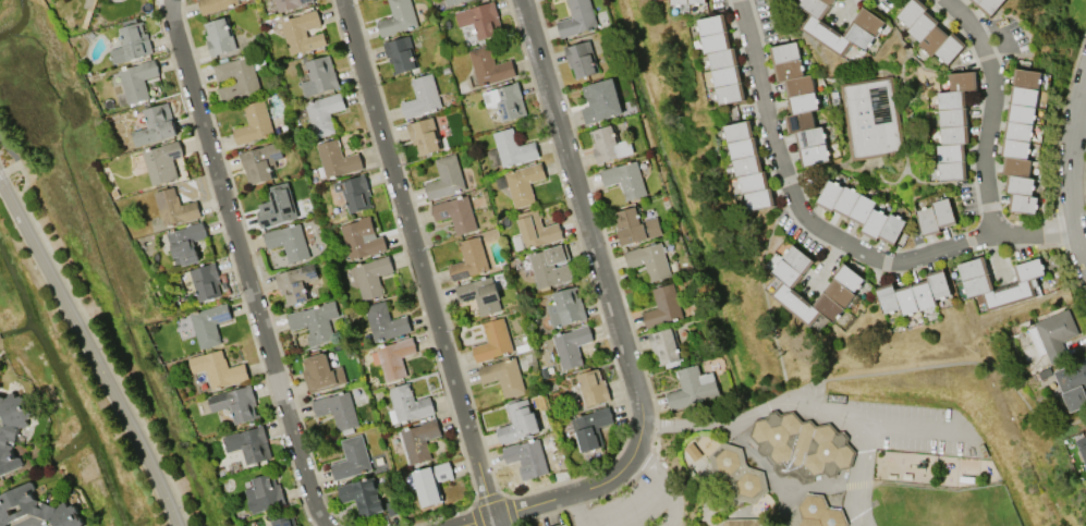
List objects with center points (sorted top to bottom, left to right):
building: (686, 1)
building: (454, 2)
building: (215, 4)
building: (290, 4)
building: (988, 5)
building: (398, 19)
building: (577, 19)
building: (480, 20)
building: (866, 25)
building: (302, 32)
building: (929, 32)
building: (219, 36)
building: (131, 42)
building: (400, 53)
building: (581, 59)
building: (720, 59)
building: (488, 66)
building: (318, 76)
building: (236, 78)
building: (137, 79)
building: (422, 97)
building: (505, 100)
building: (600, 100)
building: (798, 102)
road: (988, 111)
building: (322, 114)
building: (870, 118)
building: (253, 123)
building: (155, 125)
building: (954, 126)
building: (424, 136)
building: (1020, 140)
building: (608, 144)
building: (513, 148)
building: (337, 159)
building: (259, 161)
building: (161, 162)
building: (748, 166)
road: (1072, 169)
building: (446, 178)
building: (625, 179)
building: (521, 183)
building: (354, 193)
building: (277, 206)
building: (174, 207)
building: (861, 211)
building: (455, 213)
building: (936, 217)
building: (635, 227)
building: (536, 229)
road: (827, 236)
building: (362, 238)
building: (288, 242)
building: (517, 243)
building: (185, 244)
building: (468, 259)
building: (649, 260)
road: (417, 262)
road: (243, 265)
building: (549, 266)
building: (370, 276)
building: (205, 282)
building: (295, 283)
building: (842, 284)
building: (1022, 285)
building: (914, 293)
building: (480, 294)
building: (662, 306)
building: (565, 307)
road: (611, 317)
building: (315, 321)
building: (385, 321)
building: (208, 323)
building: (1052, 333)
building: (493, 341)
building: (571, 345)
building: (663, 346)
road: (96, 348)
building: (392, 357)
building: (218, 369)
building: (321, 372)
building: (503, 376)
building: (1072, 383)
building: (591, 387)
building: (692, 388)
building: (235, 403)
building: (407, 403)
road: (801, 404)
building: (337, 409)
building: (517, 421)
building: (590, 428)
building: (12, 429)
building: (419, 440)
building: (248, 444)
building: (801, 445)
building: (1082, 449)
building: (693, 451)
building: (352, 457)
building: (527, 457)
road: (863, 467)
road: (767, 470)
building: (737, 472)
building: (431, 481)
road: (889, 484)
road: (660, 485)
building: (264, 493)
building: (362, 496)
building: (35, 507)
road: (578, 509)
road: (627, 510)
building: (819, 512)
road: (855, 519)
road: (861, 519)
building: (284, 522)
building: (739, 522)
building: (298, 525)
building: (560, 525)

